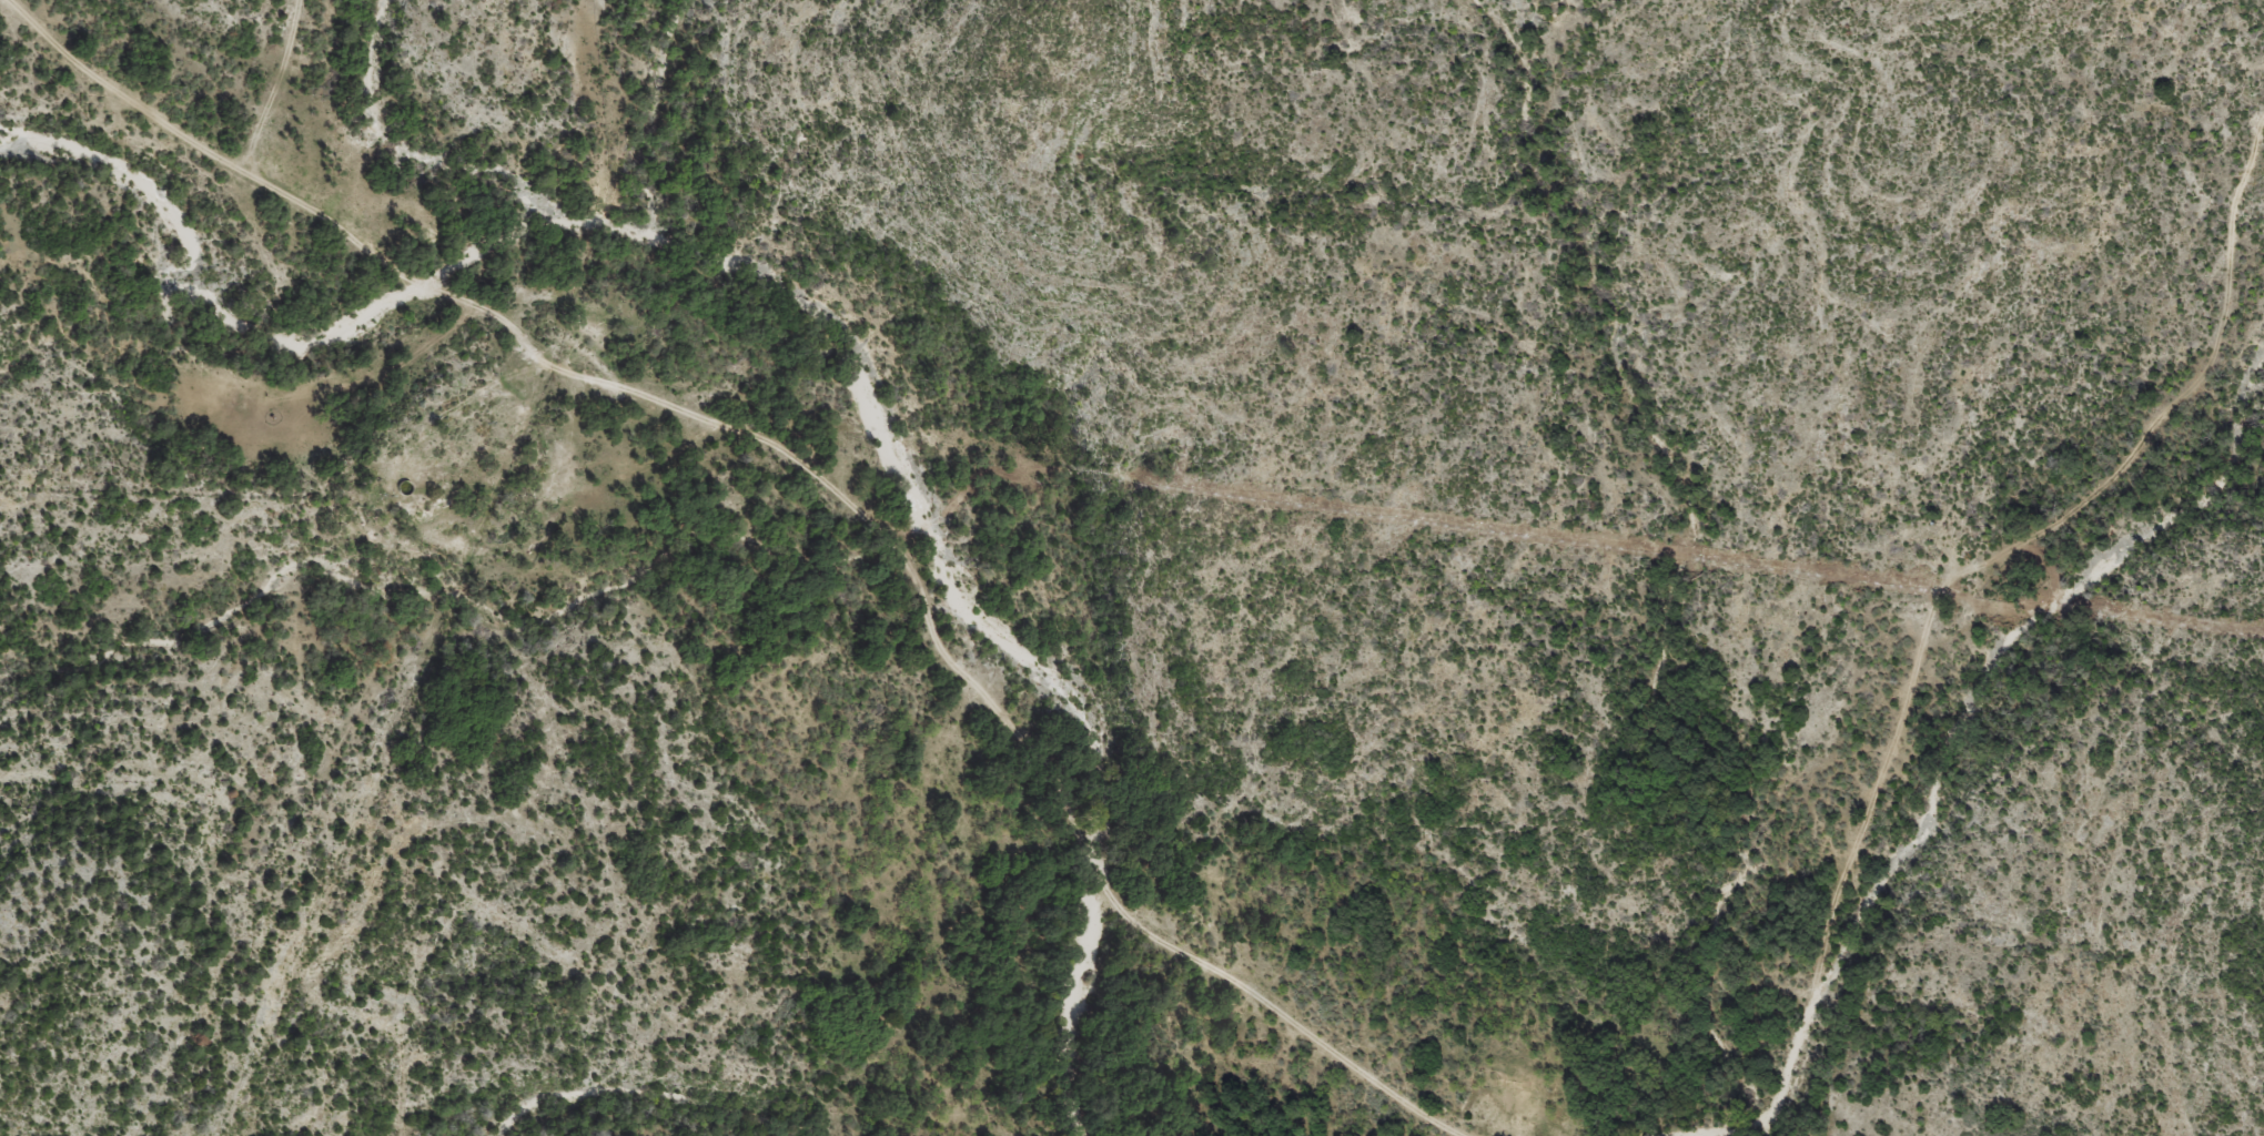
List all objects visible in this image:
road: (271, 84)
road: (815, 475)
road: (1963, 590)

